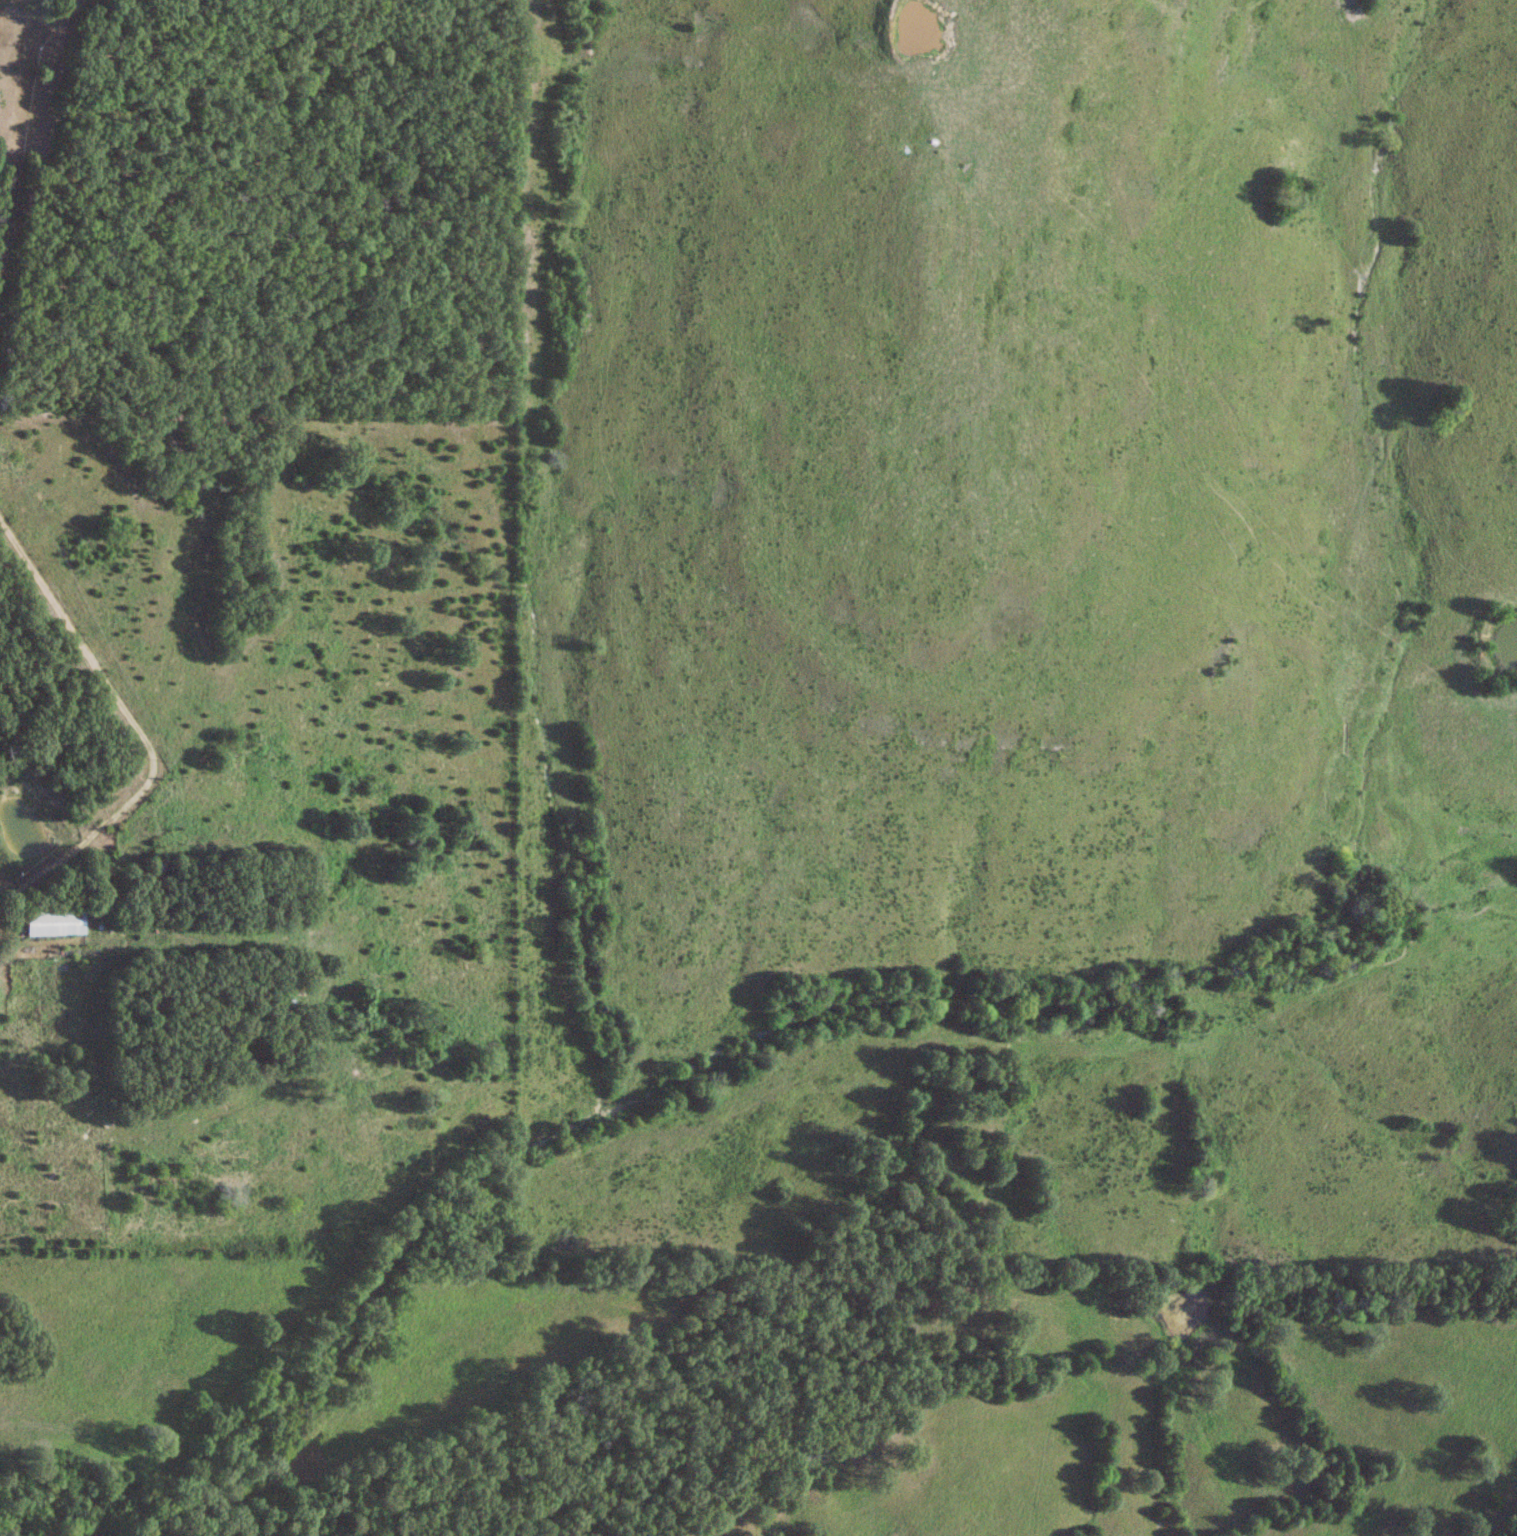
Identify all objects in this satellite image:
building: (52, 924)

